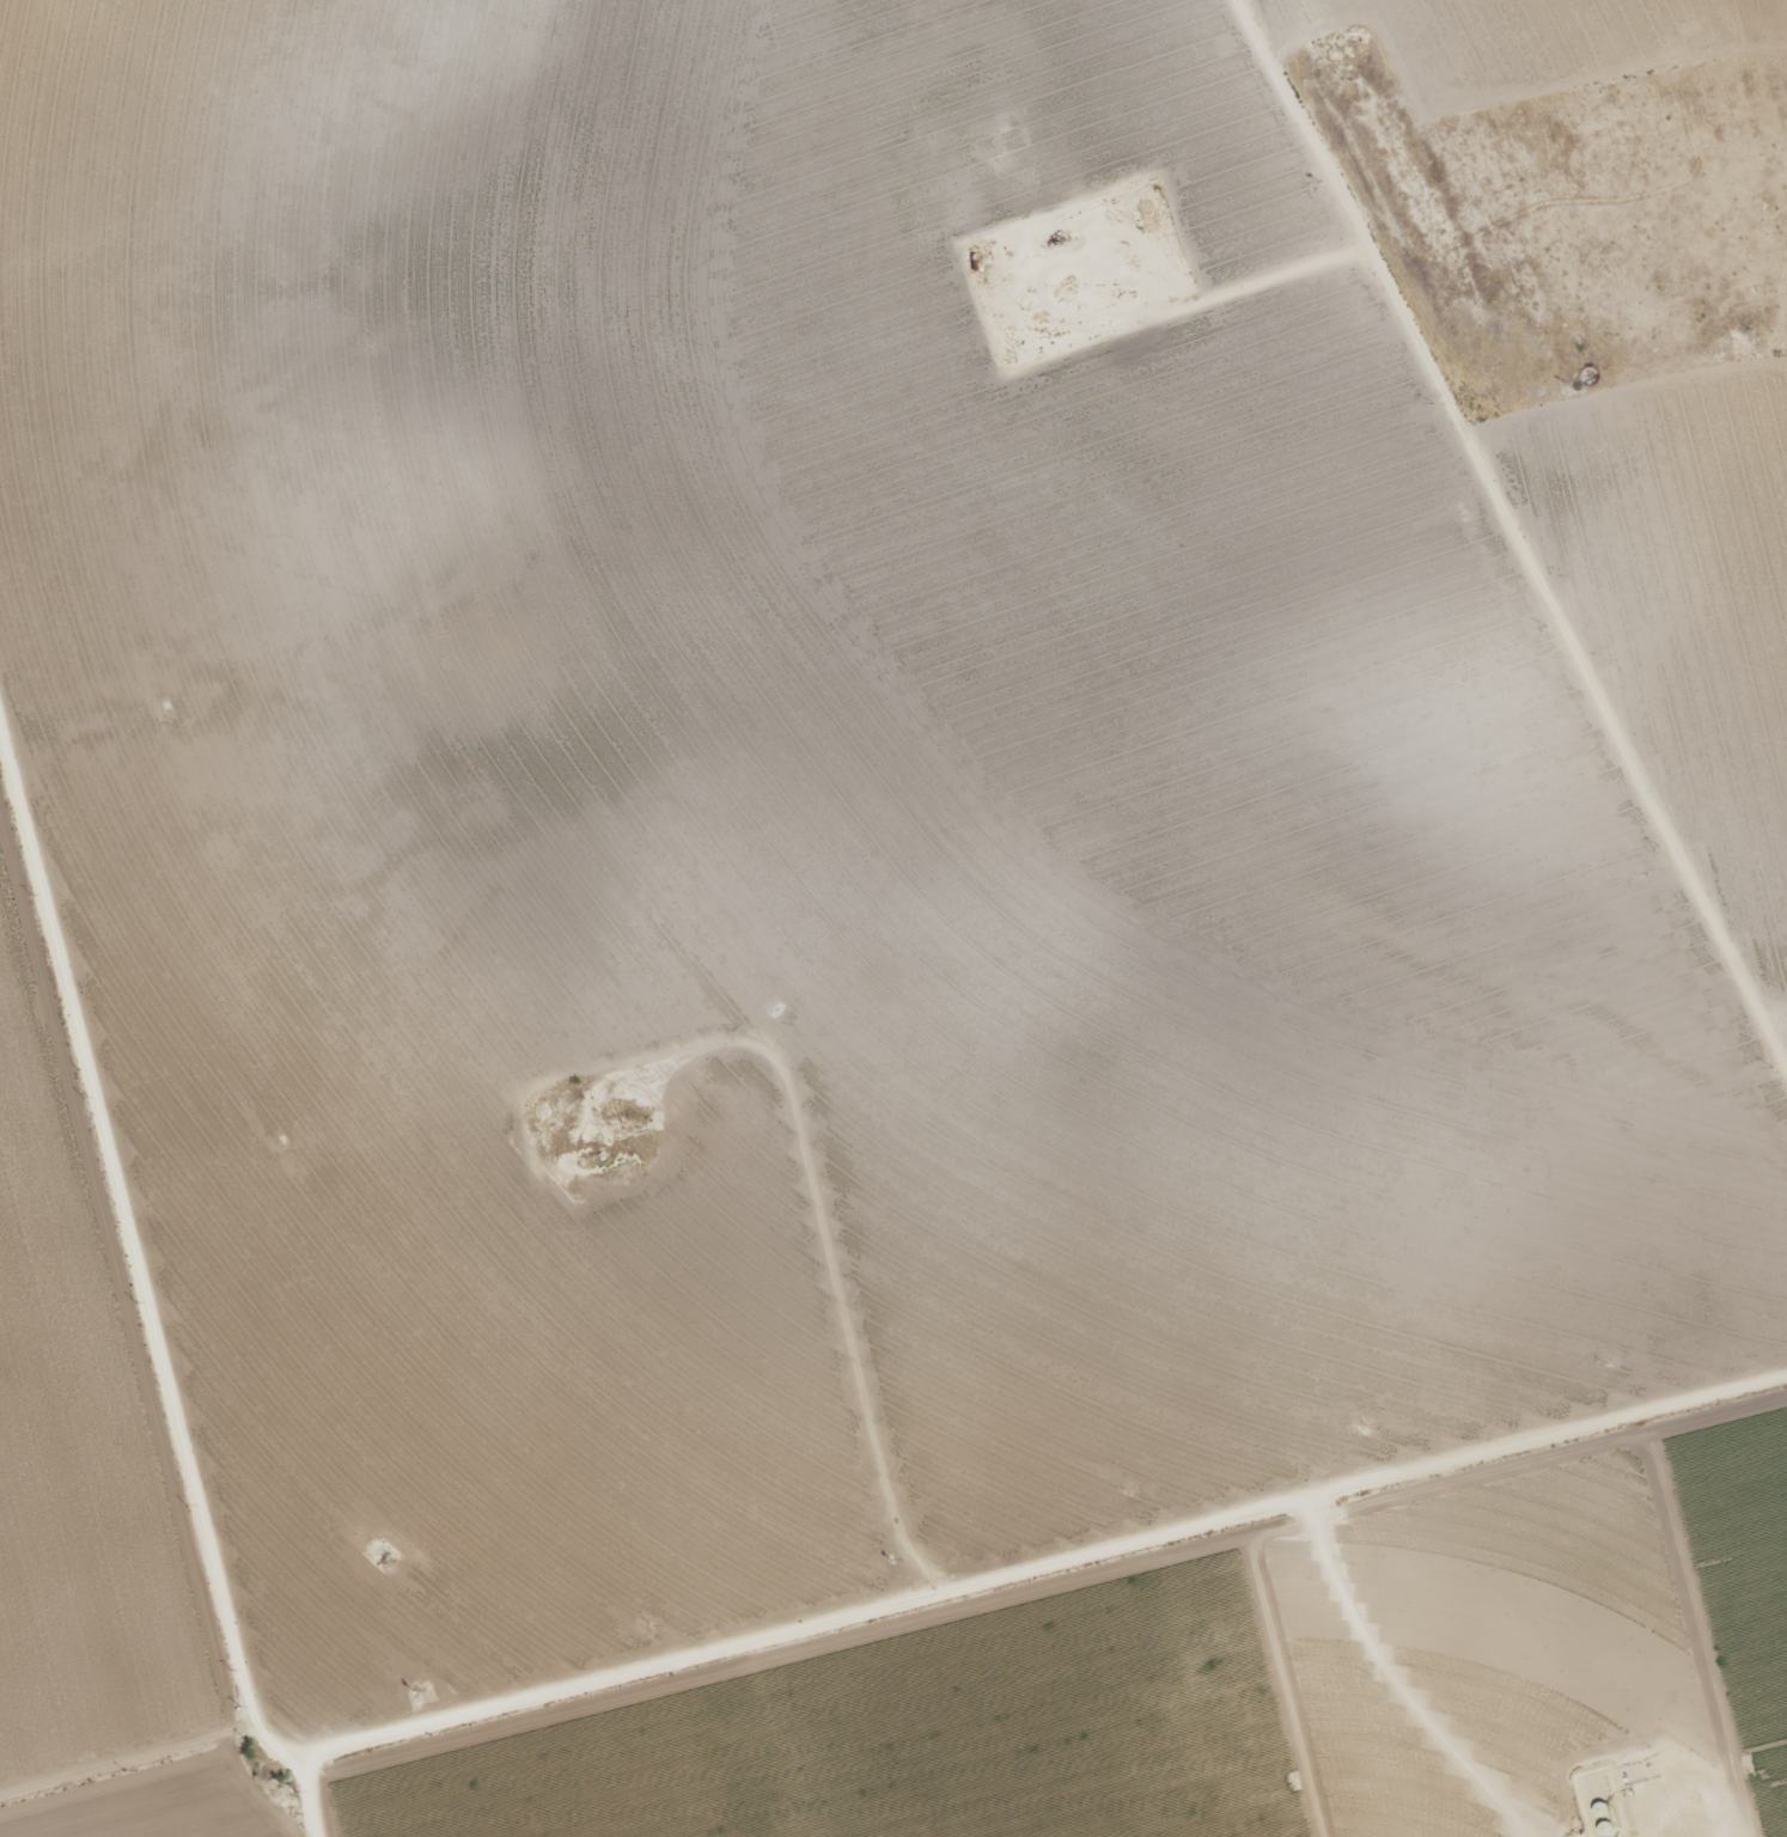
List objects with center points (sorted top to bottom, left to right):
road: (1508, 533)

